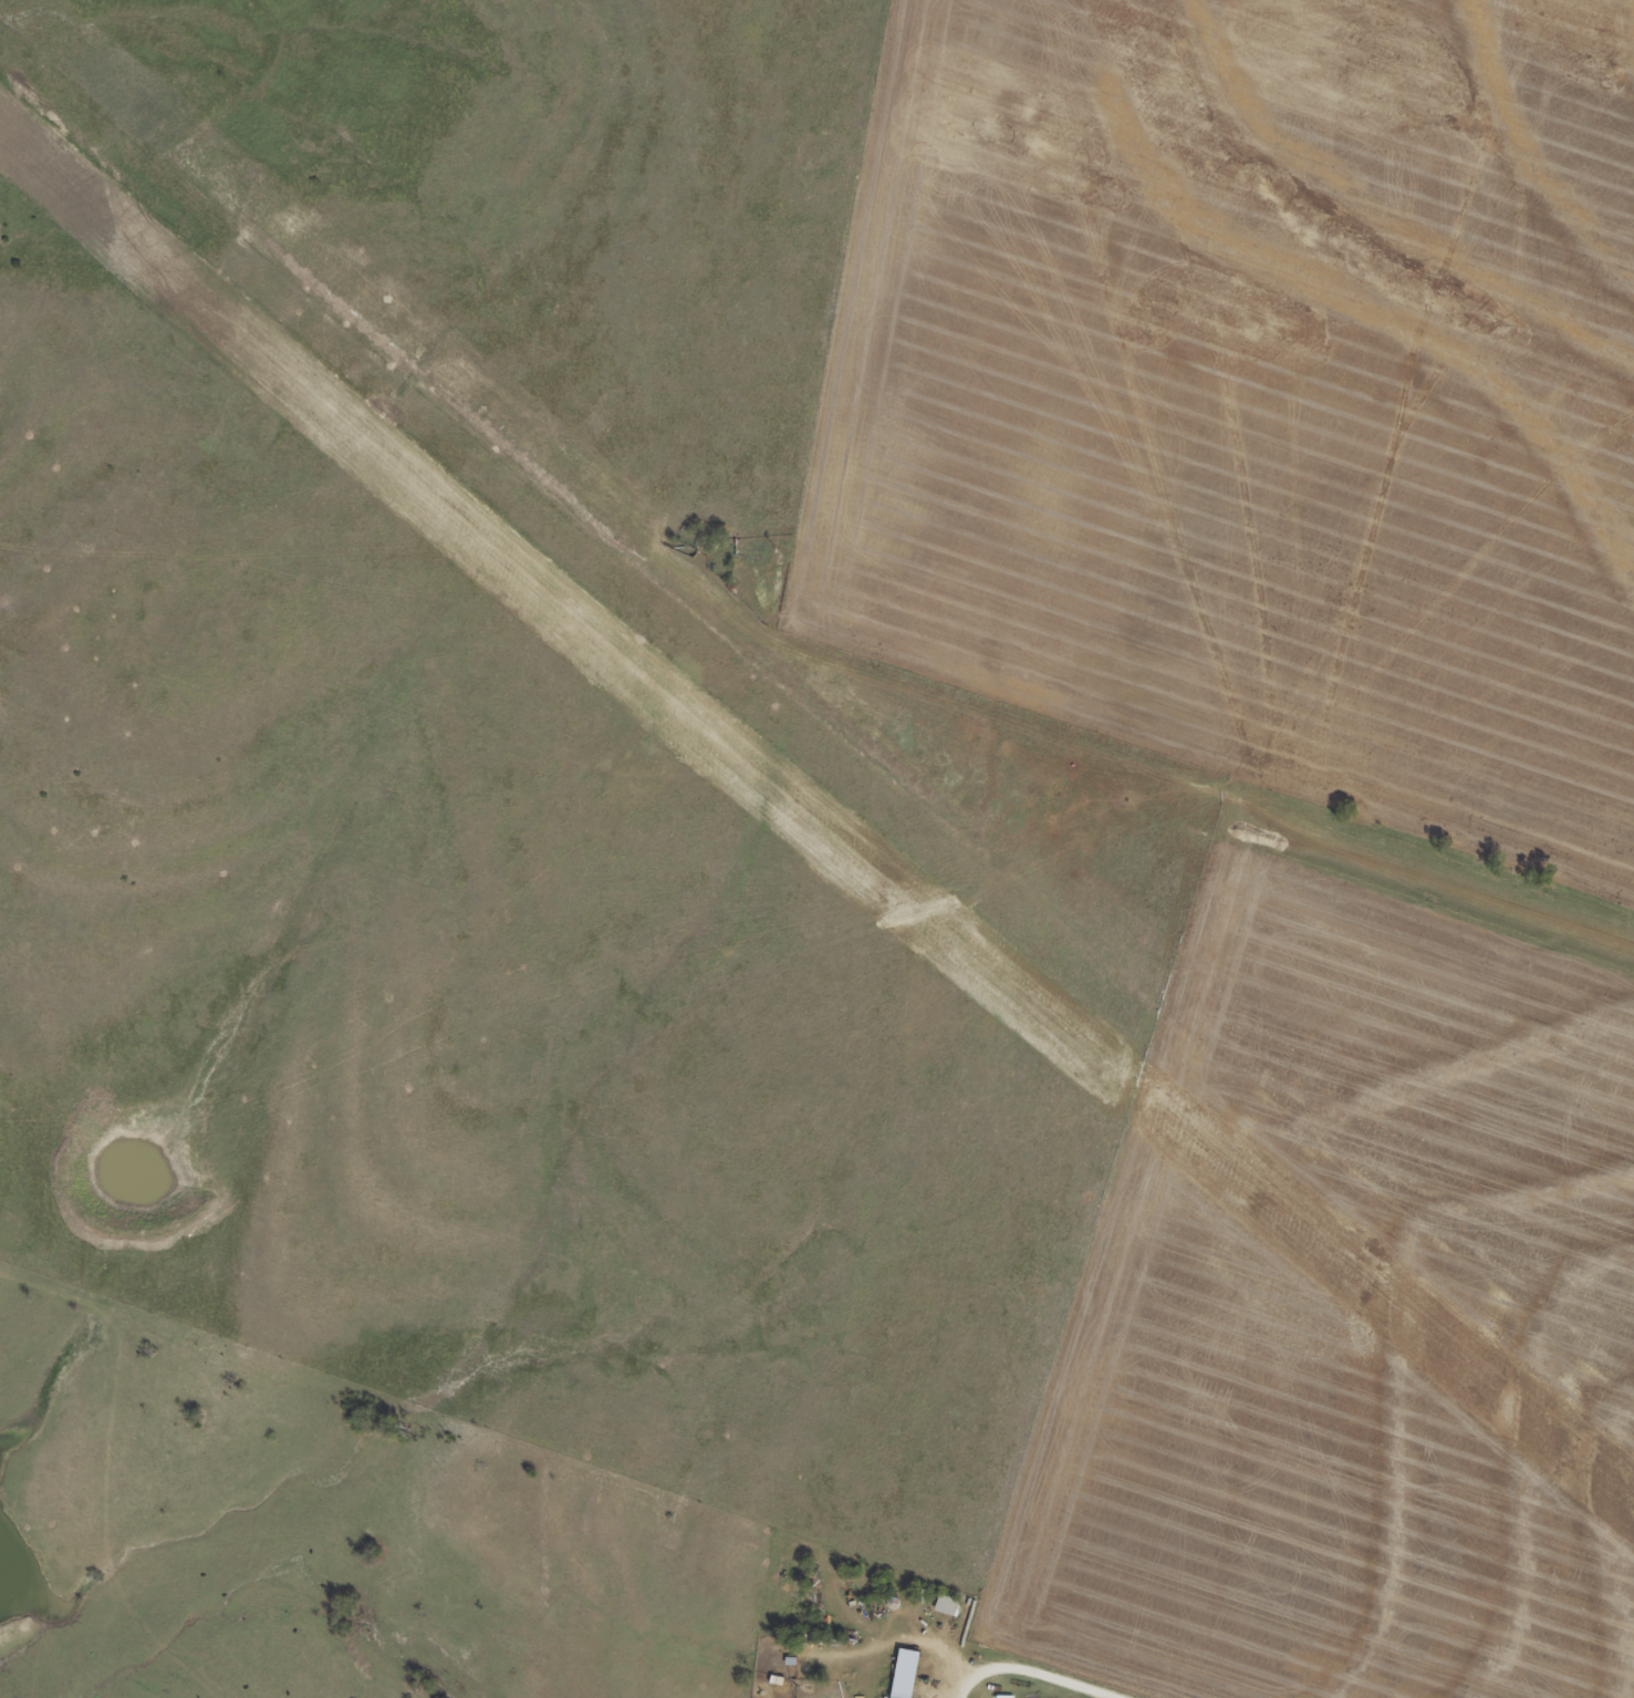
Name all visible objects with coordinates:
road: (324, 568)
building: (945, 1604)
building: (889, 1697)
road: (937, 1697)

